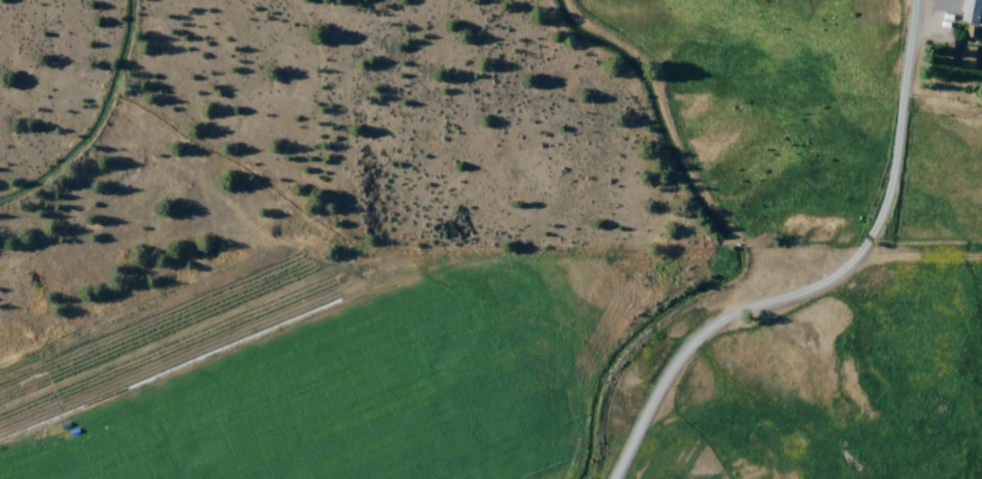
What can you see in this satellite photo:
building: (972, 12)
building: (972, 33)
building: (961, 57)
road: (834, 283)

